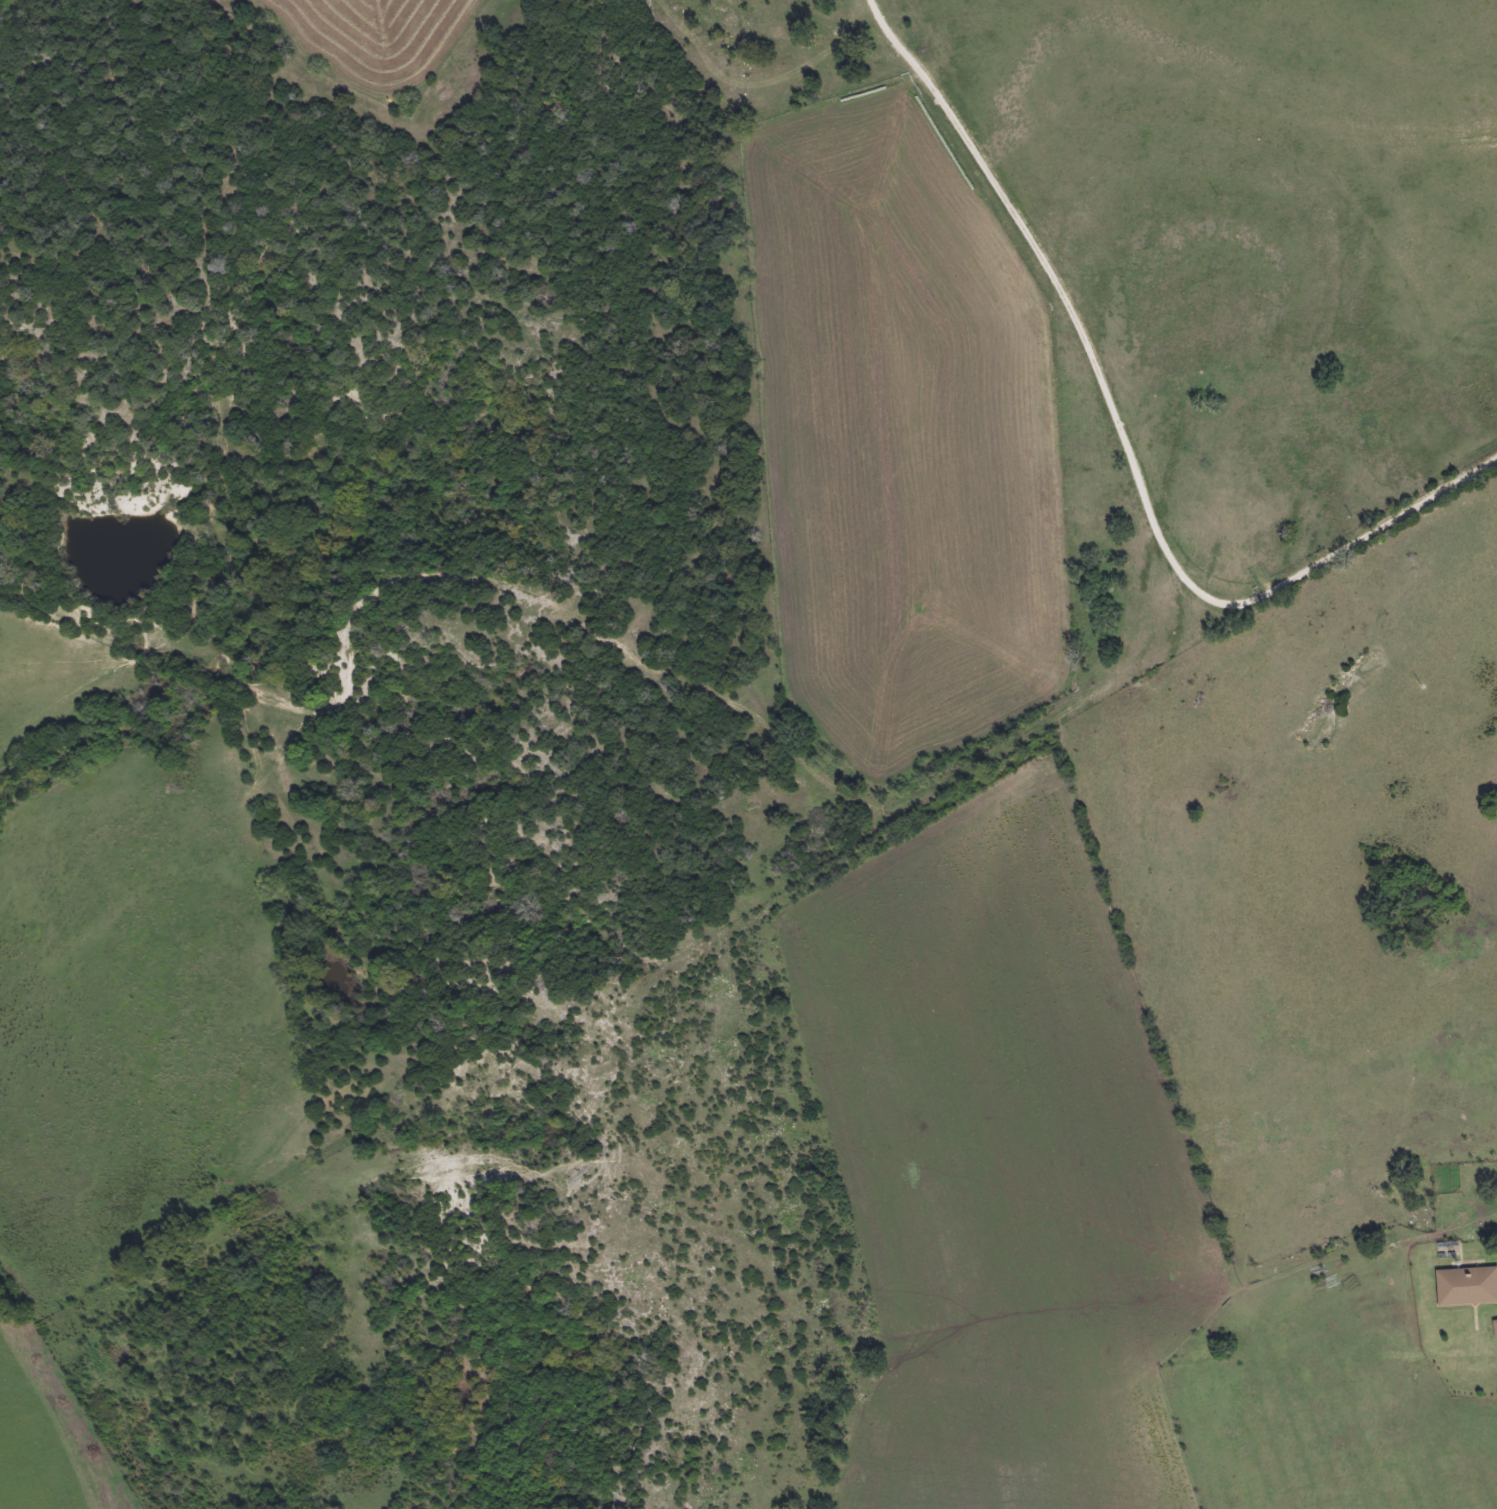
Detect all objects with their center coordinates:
road: (1172, 522)
road: (1371, 587)
building: (1467, 1285)

